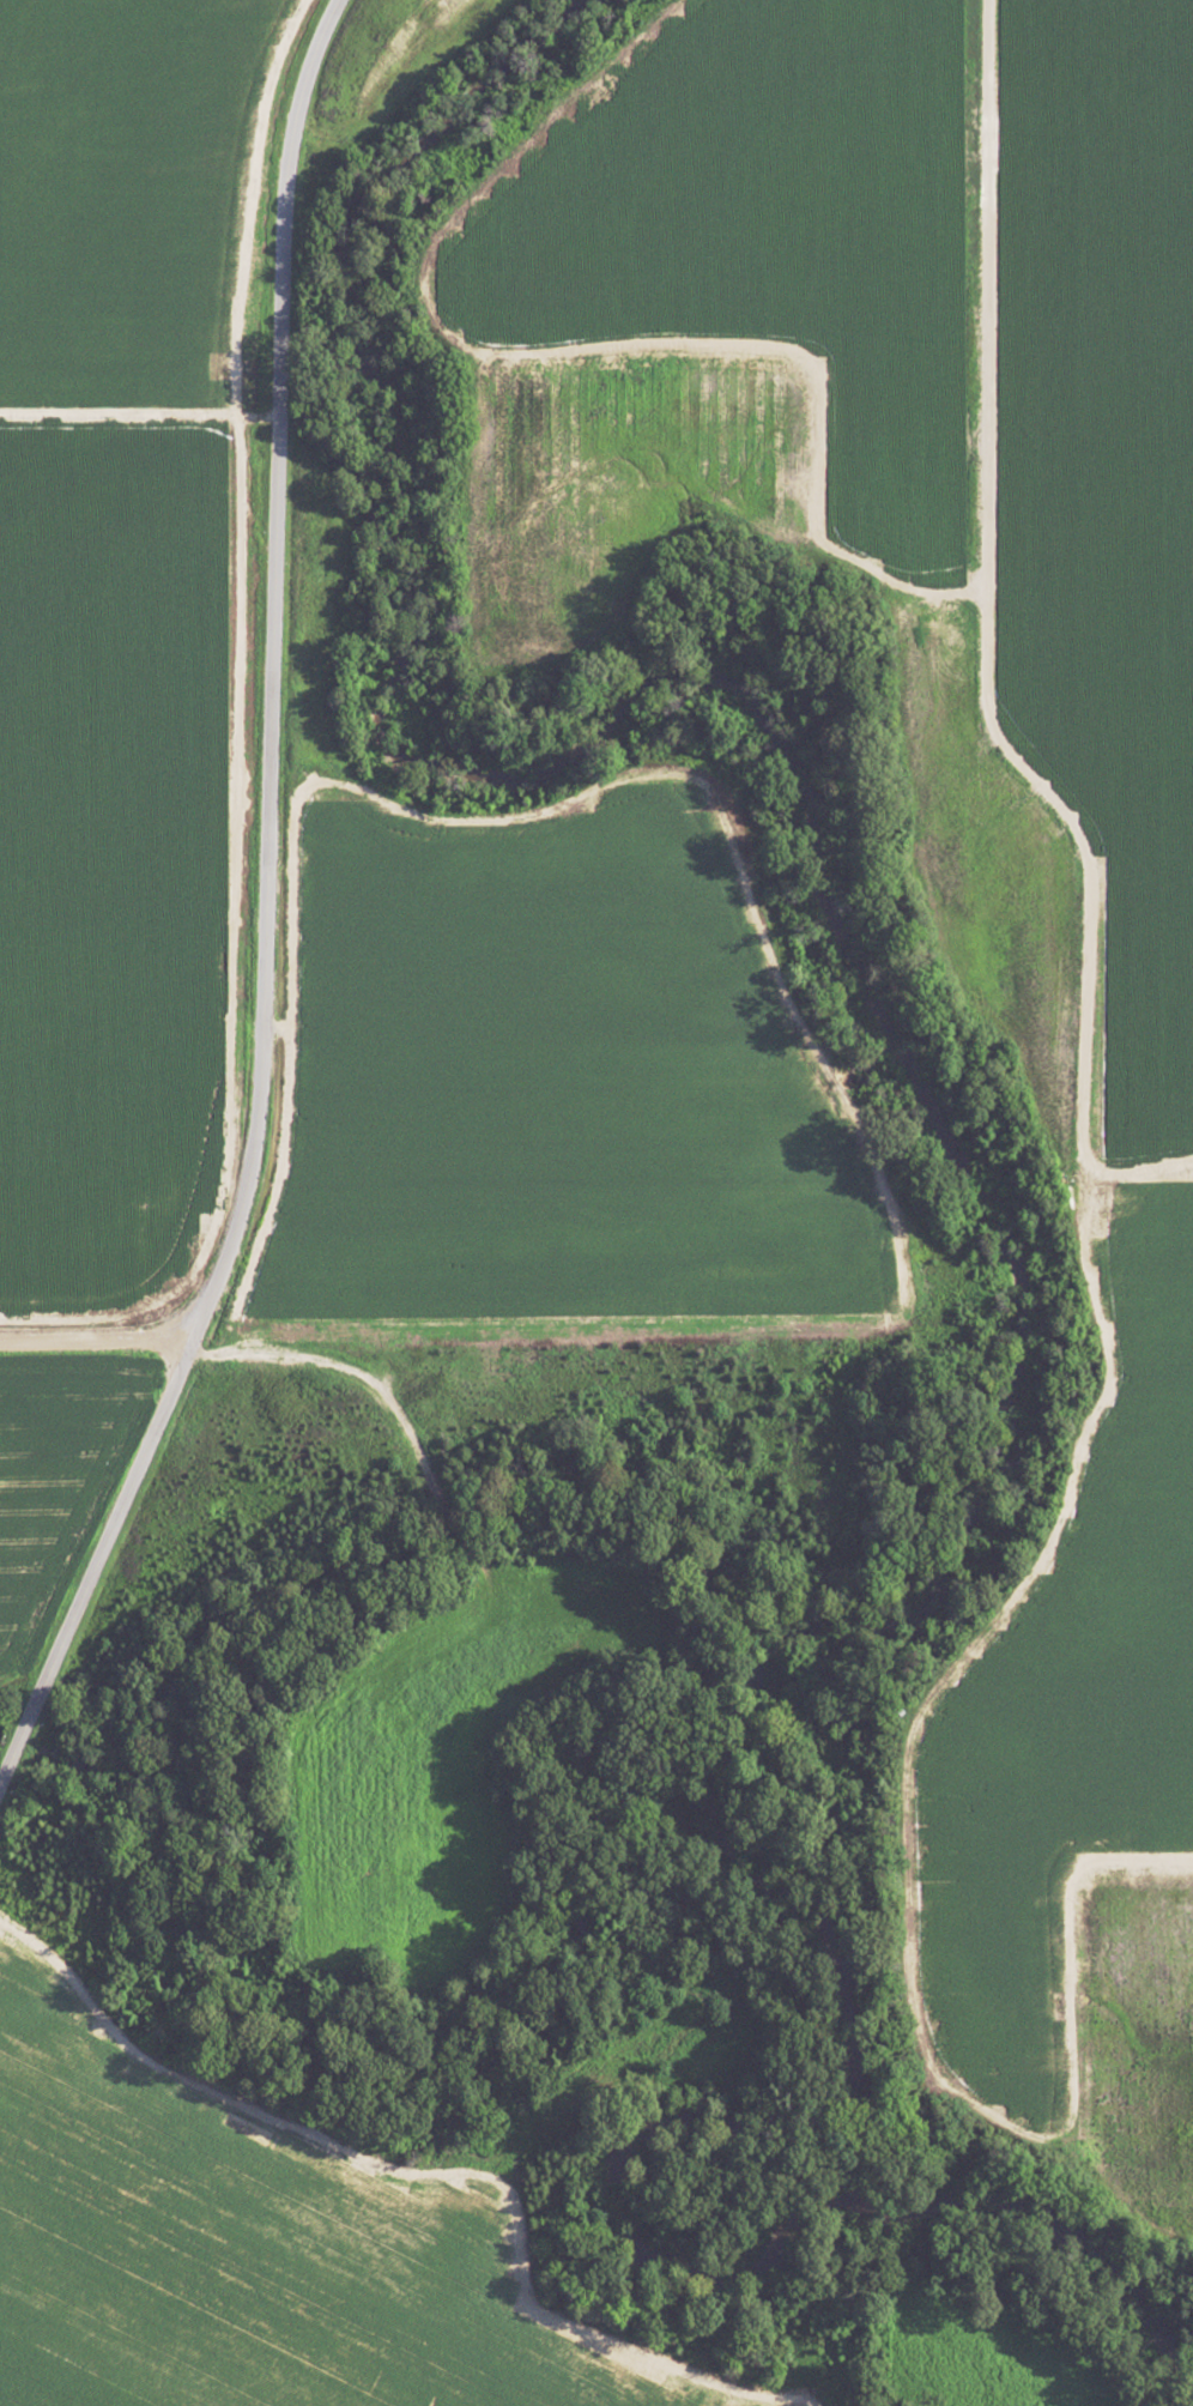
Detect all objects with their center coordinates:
road: (991, 1)
road: (1110, 4)
road: (985, 641)
road: (265, 912)
road: (95, 1343)

